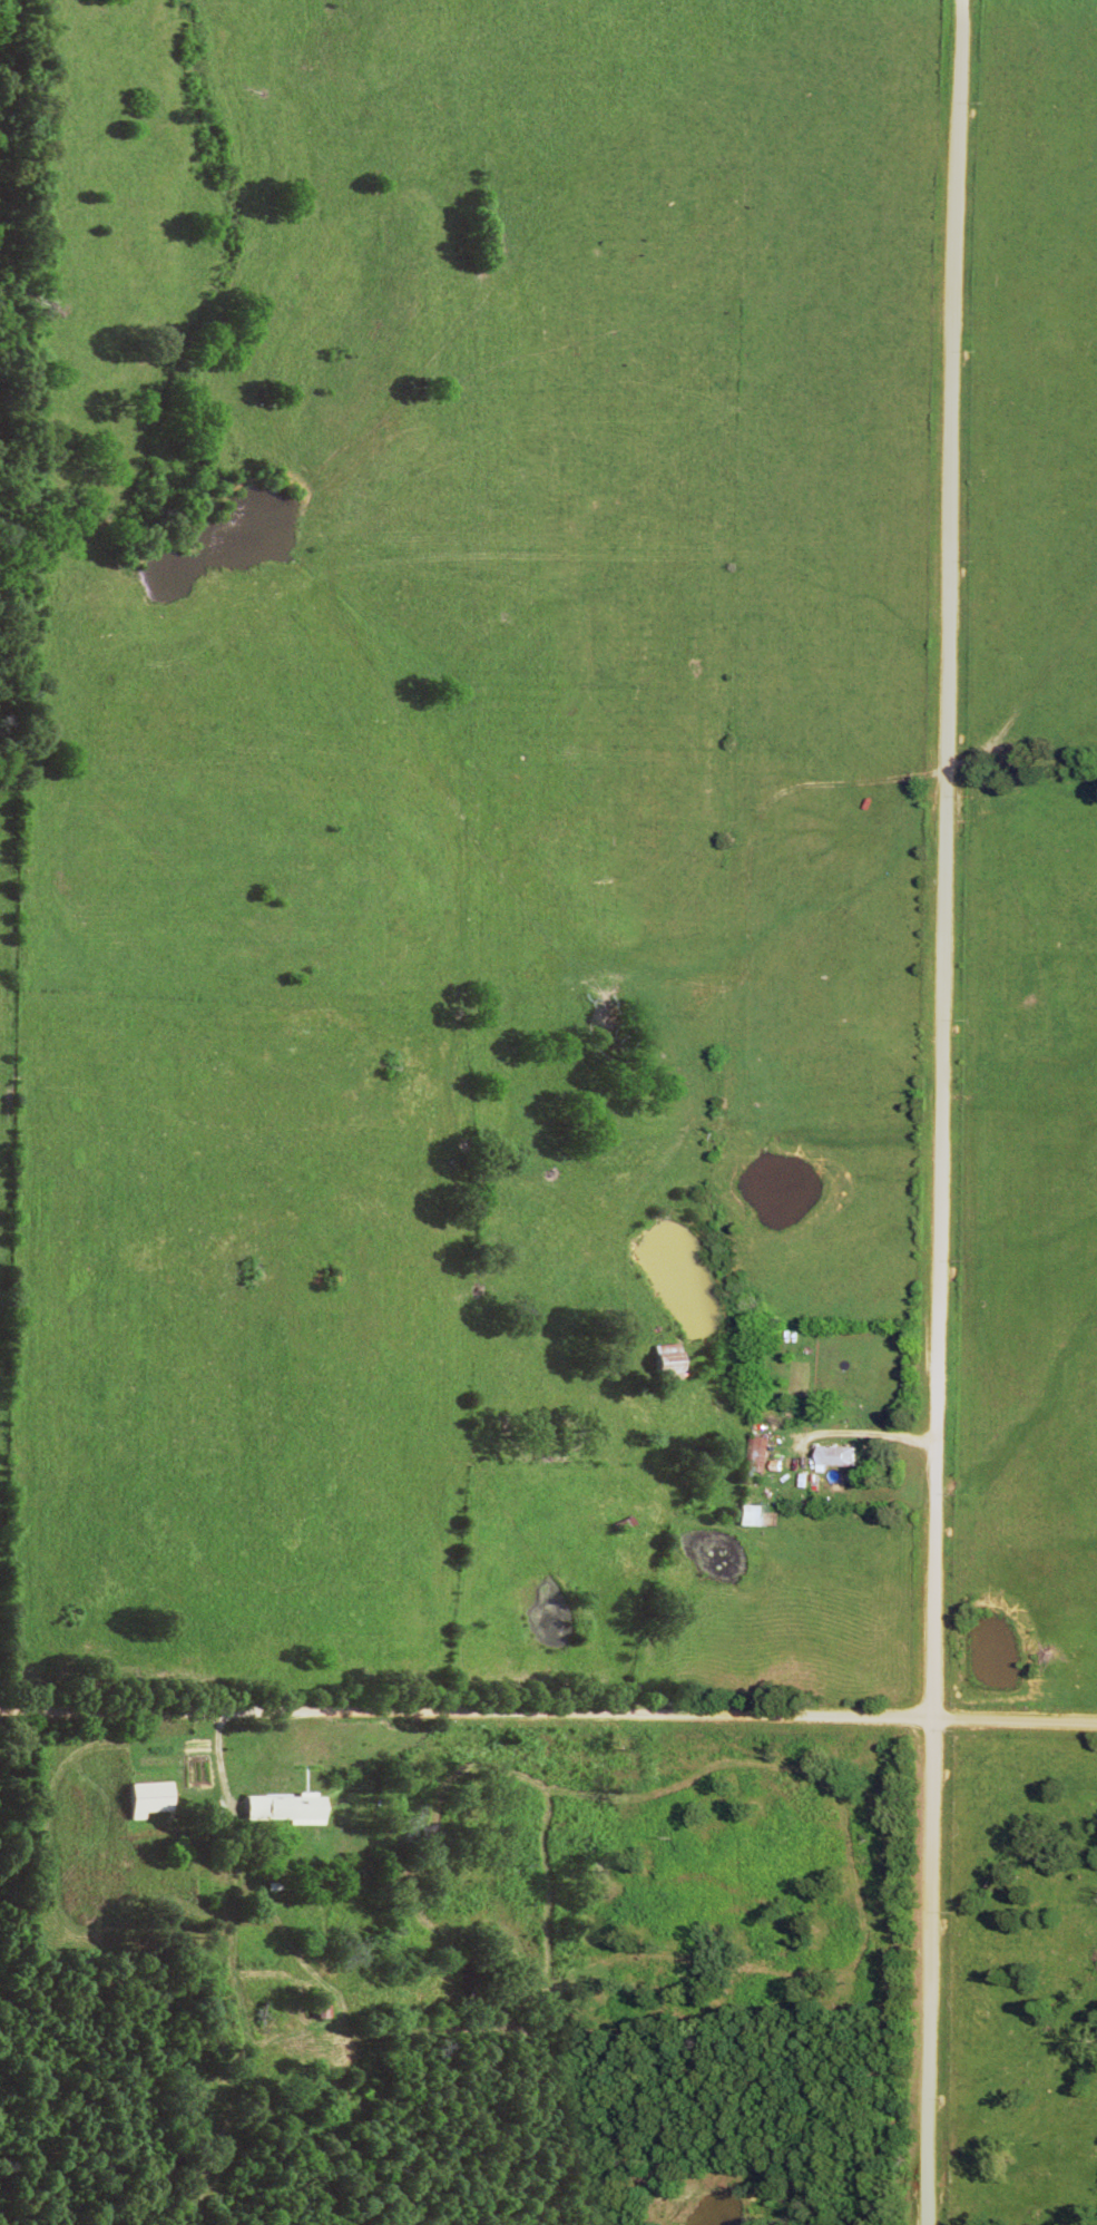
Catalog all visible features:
road: (934, 1112)
building: (664, 1368)
building: (755, 1461)
building: (832, 1463)
building: (748, 1521)
road: (548, 1712)
building: (282, 1813)
building: (316, 2011)

